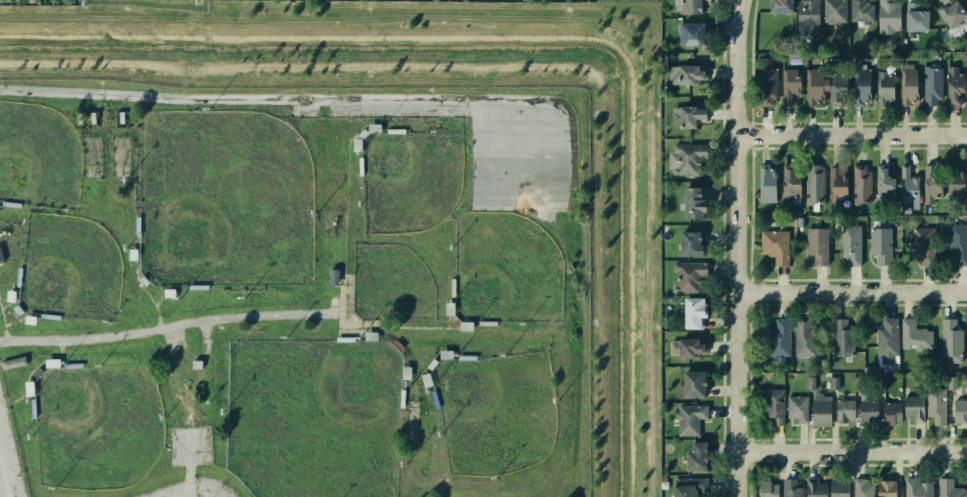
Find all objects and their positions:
park: (626, 1)
building: (693, 6)
building: (780, 6)
road: (740, 9)
building: (835, 10)
building: (862, 10)
building: (952, 12)
building: (807, 16)
building: (888, 16)
building: (916, 17)
building: (692, 34)
building: (687, 74)
building: (766, 84)
building: (790, 84)
building: (908, 84)
building: (837, 85)
building: (954, 85)
building: (814, 86)
building: (860, 86)
building: (932, 86)
building: (884, 88)
road: (276, 98)
building: (688, 116)
road: (519, 133)
road: (851, 136)
road: (476, 151)
road: (565, 151)
park: (38, 155)
building: (687, 157)
road: (520, 167)
building: (837, 182)
building: (932, 182)
building: (956, 182)
park: (407, 183)
building: (767, 183)
building: (885, 183)
building: (790, 184)
building: (814, 184)
building: (861, 184)
building: (908, 185)
building: (693, 202)
road: (520, 203)
park: (221, 204)
building: (906, 209)
road: (344, 214)
building: (938, 218)
building: (799, 221)
building: (692, 242)
building: (957, 242)
building: (851, 244)
building: (880, 244)
building: (775, 245)
building: (816, 245)
building: (923, 245)
road: (736, 257)
park: (65, 268)
park: (505, 273)
building: (688, 276)
road: (140, 283)
park: (391, 285)
road: (851, 294)
road: (158, 297)
road: (8, 301)
building: (694, 312)
road: (2, 317)
road: (157, 317)
road: (348, 319)
road: (13, 320)
road: (446, 321)
road: (366, 326)
road: (412, 326)
road: (171, 327)
road: (452, 327)
road: (4, 331)
building: (914, 335)
building: (779, 337)
building: (841, 337)
building: (803, 338)
building: (887, 339)
building: (950, 340)
building: (687, 347)
road: (60, 351)
building: (14, 363)
road: (35, 367)
building: (809, 382)
building: (880, 382)
building: (833, 383)
building: (856, 383)
building: (951, 383)
building: (691, 384)
road: (16, 398)
building: (773, 405)
building: (936, 405)
building: (797, 407)
building: (913, 407)
building: (820, 410)
building: (843, 410)
building: (960, 410)
building: (867, 411)
building: (890, 412)
building: (689, 417)
park: (313, 418)
park: (492, 419)
park: (95, 427)
road: (852, 452)
building: (697, 457)
parking lot: (9, 458)
road: (3, 481)
building: (689, 486)
building: (767, 488)
building: (791, 488)
building: (814, 488)
building: (838, 488)
building: (862, 488)
building: (886, 488)
building: (917, 488)
building: (949, 488)

